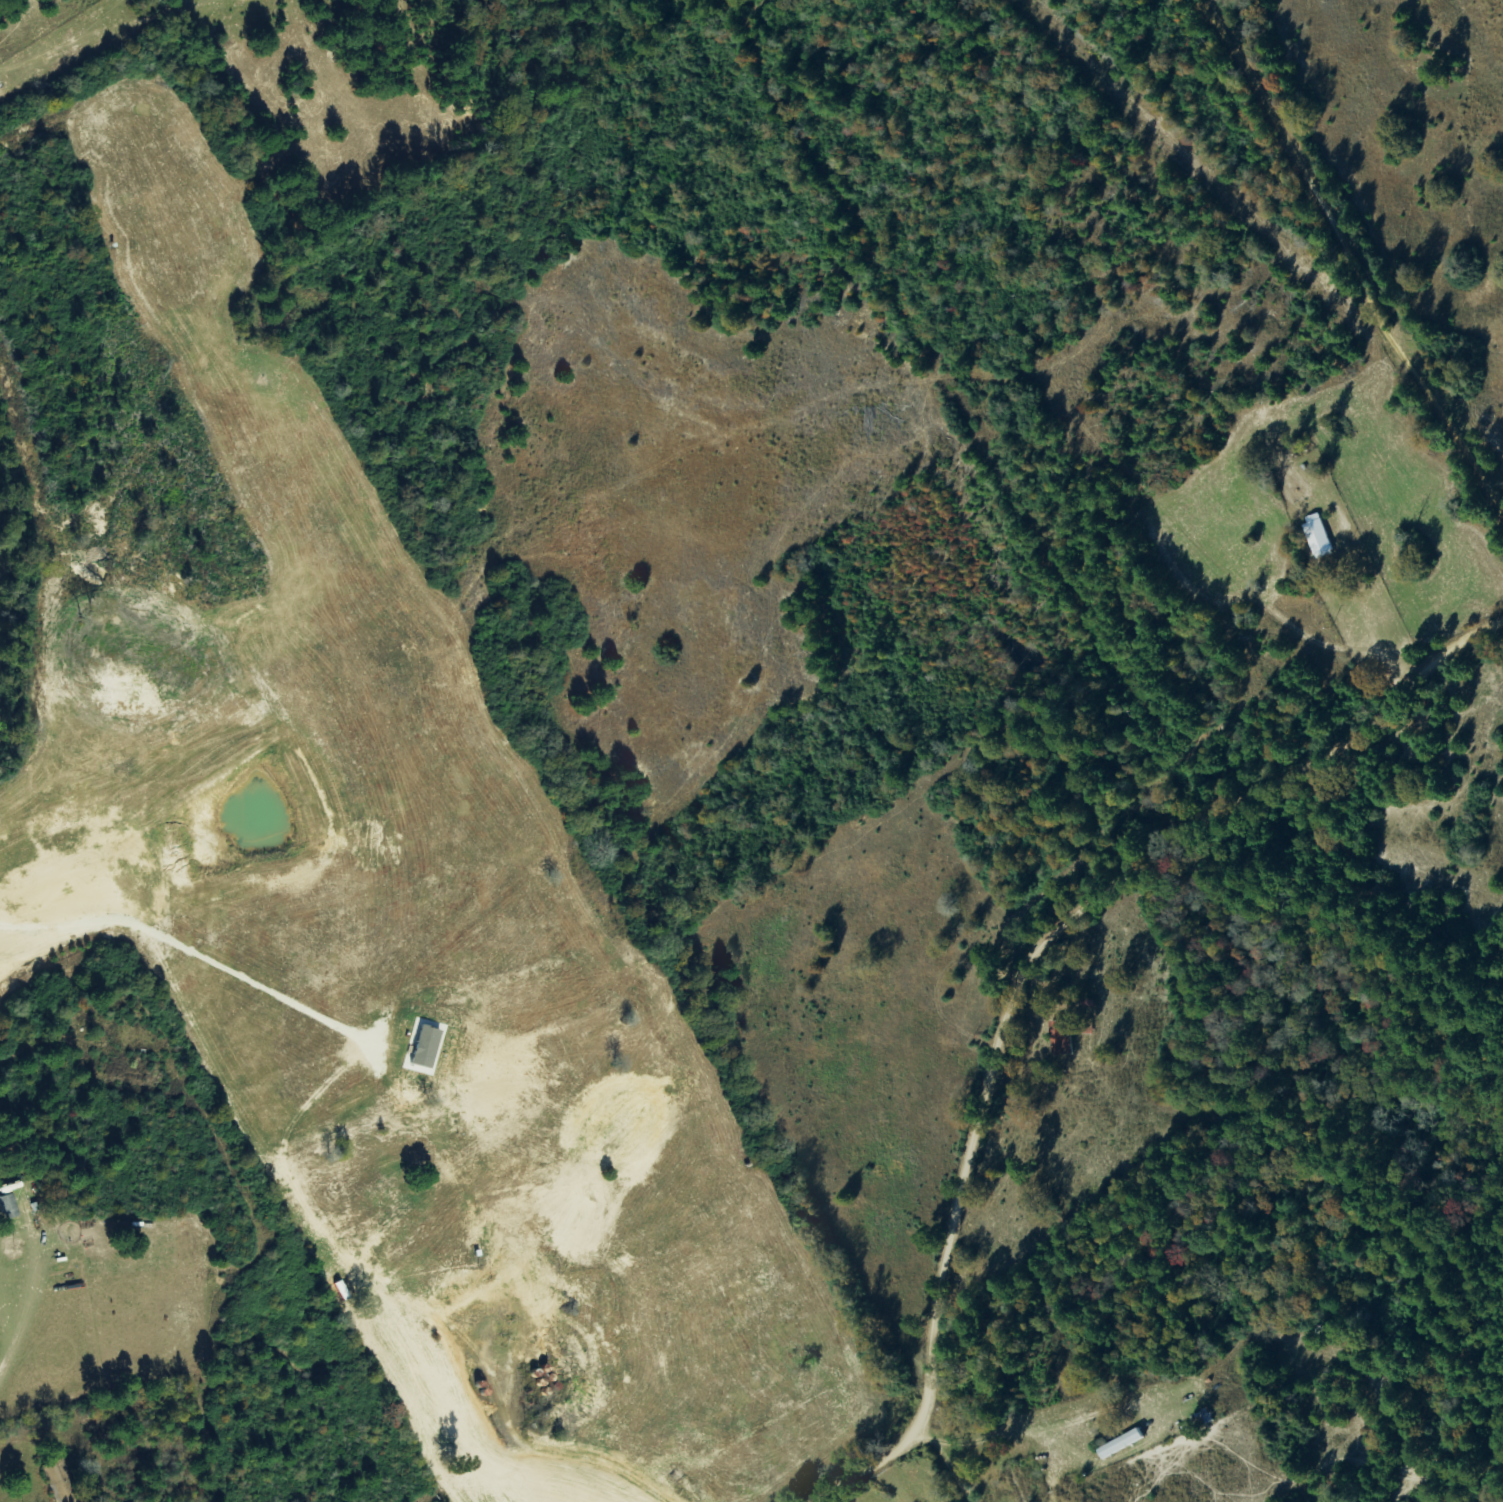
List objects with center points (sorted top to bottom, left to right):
building: (1316, 536)
road: (1014, 981)
building: (1086, 1028)
building: (10, 1207)
building: (1119, 1444)
building: (52, 1472)
road: (915, 1473)

